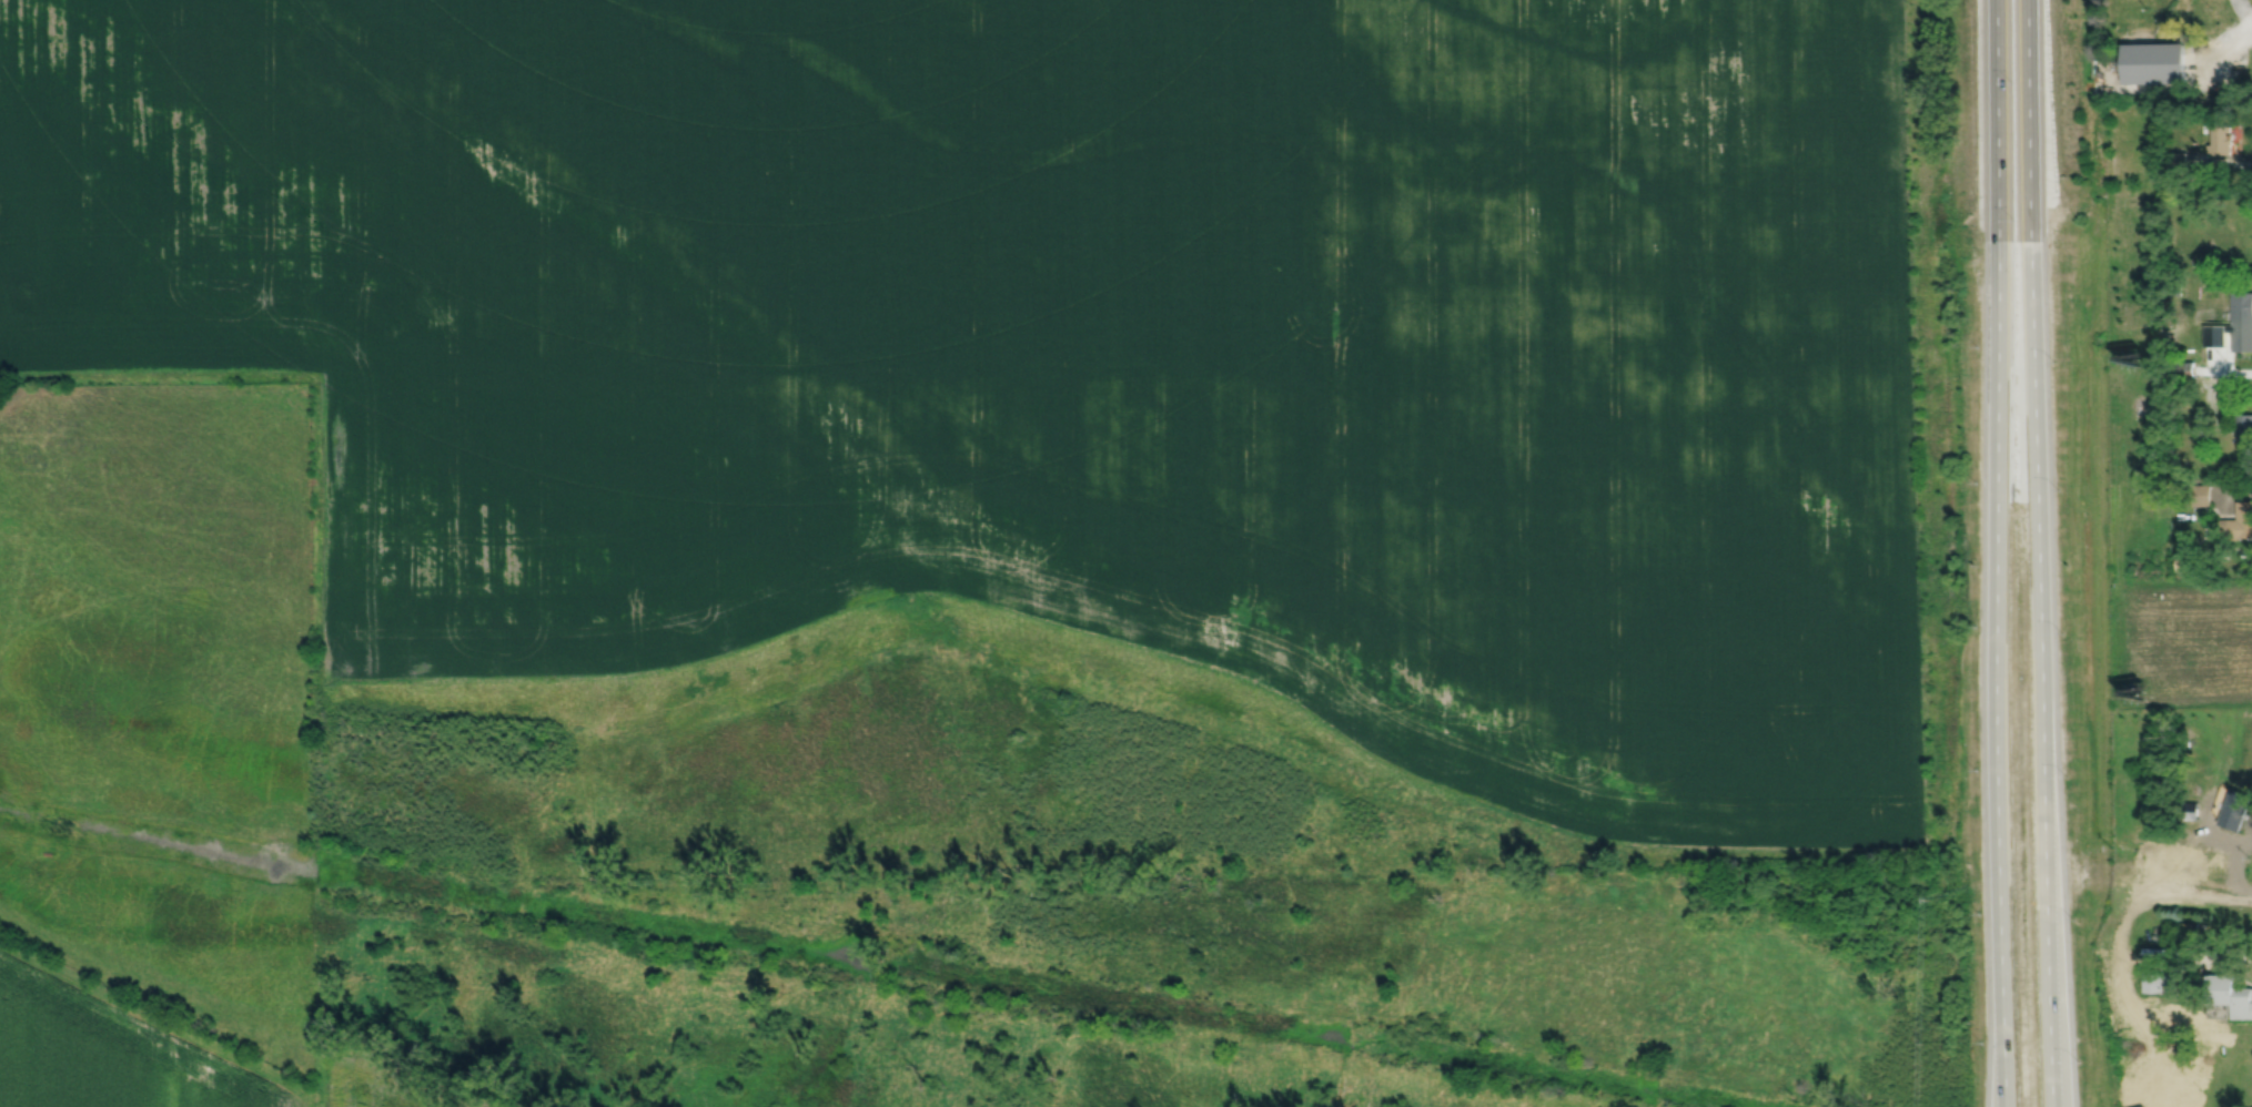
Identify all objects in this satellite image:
road: (2243, 9)
road: (2204, 50)
building: (2132, 74)
building: (2219, 139)
building: (2178, 160)
road: (2221, 161)
building: (2241, 322)
crop: (1064, 344)
building: (2181, 369)
building: (2243, 425)
building: (2197, 494)
building: (2235, 521)
road: (1997, 553)
road: (2039, 553)
building: (2179, 560)
building: (2185, 592)
building: (2240, 805)
building: (2184, 810)
building: (2159, 982)
building: (2230, 995)
road: (2061, 1006)
crop: (153, 1059)
road: (1998, 1077)

